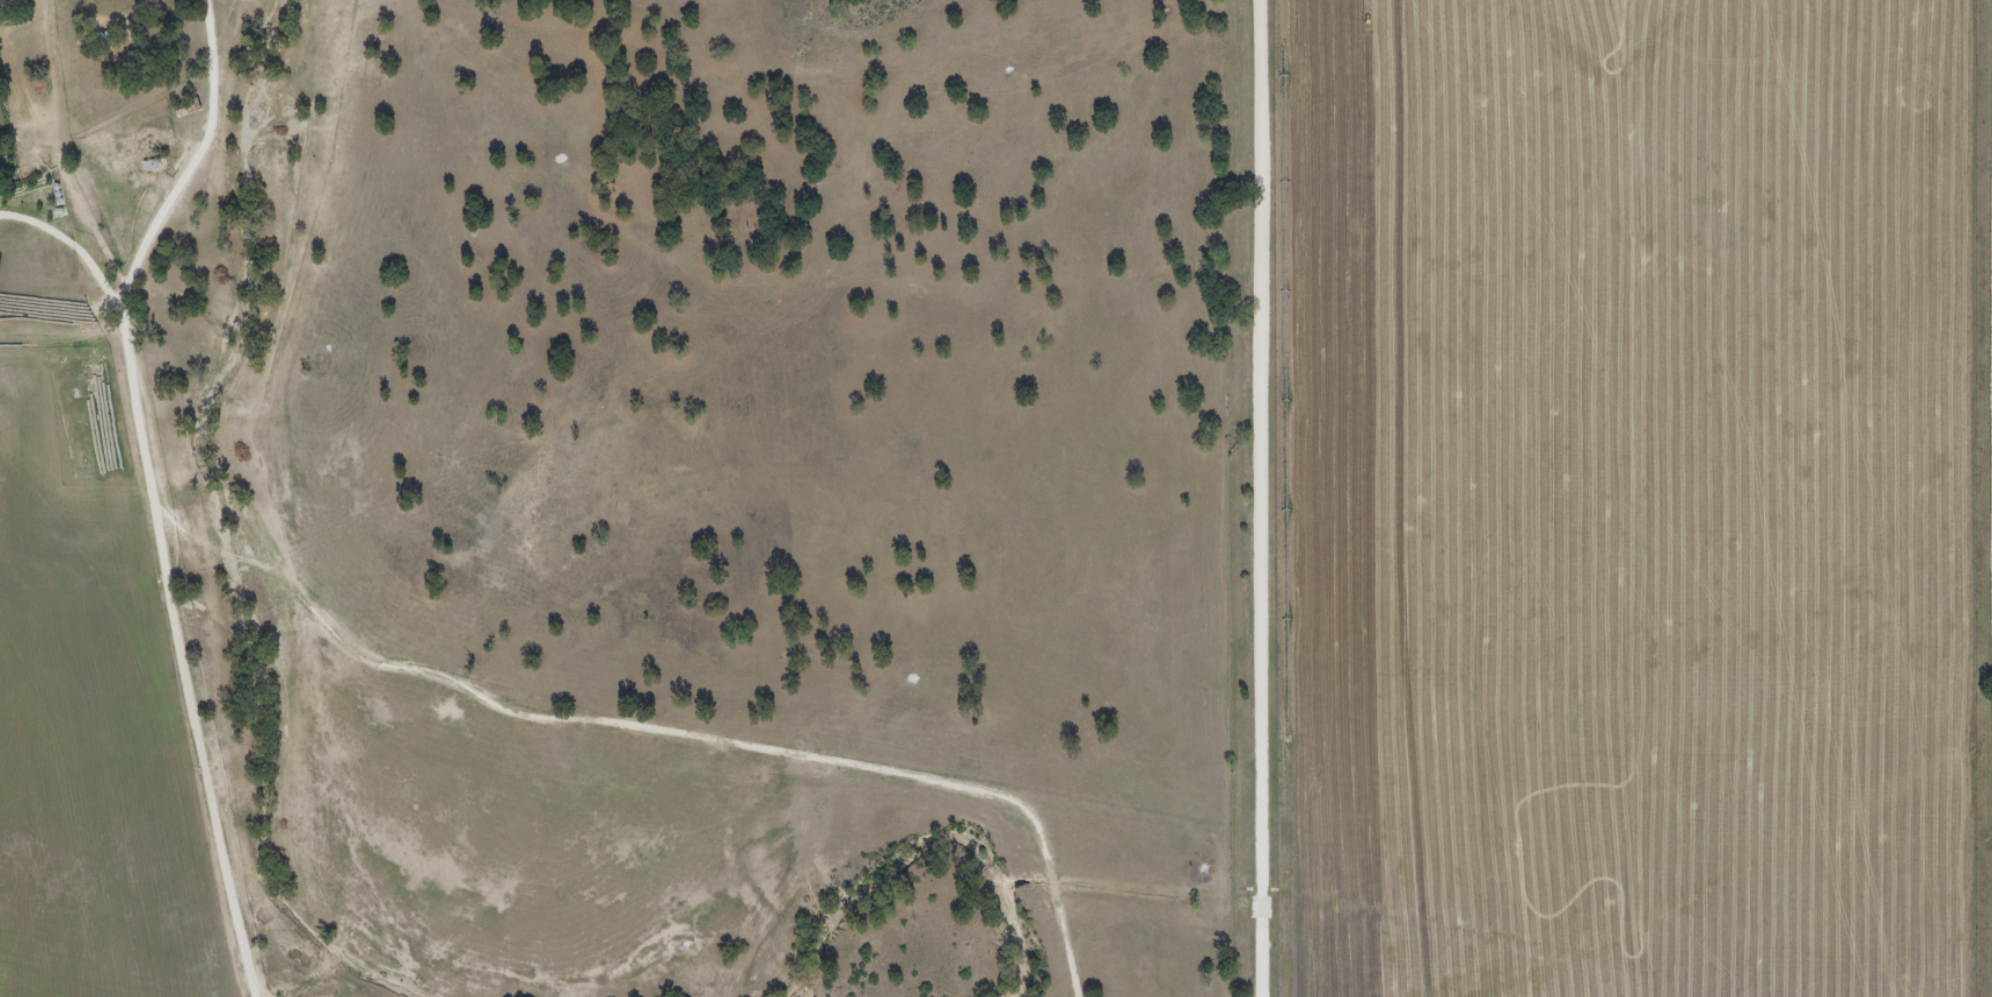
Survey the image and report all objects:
building: (189, 106)
building: (144, 150)
road: (191, 155)
road: (69, 241)
road: (1256, 498)
road: (179, 649)

